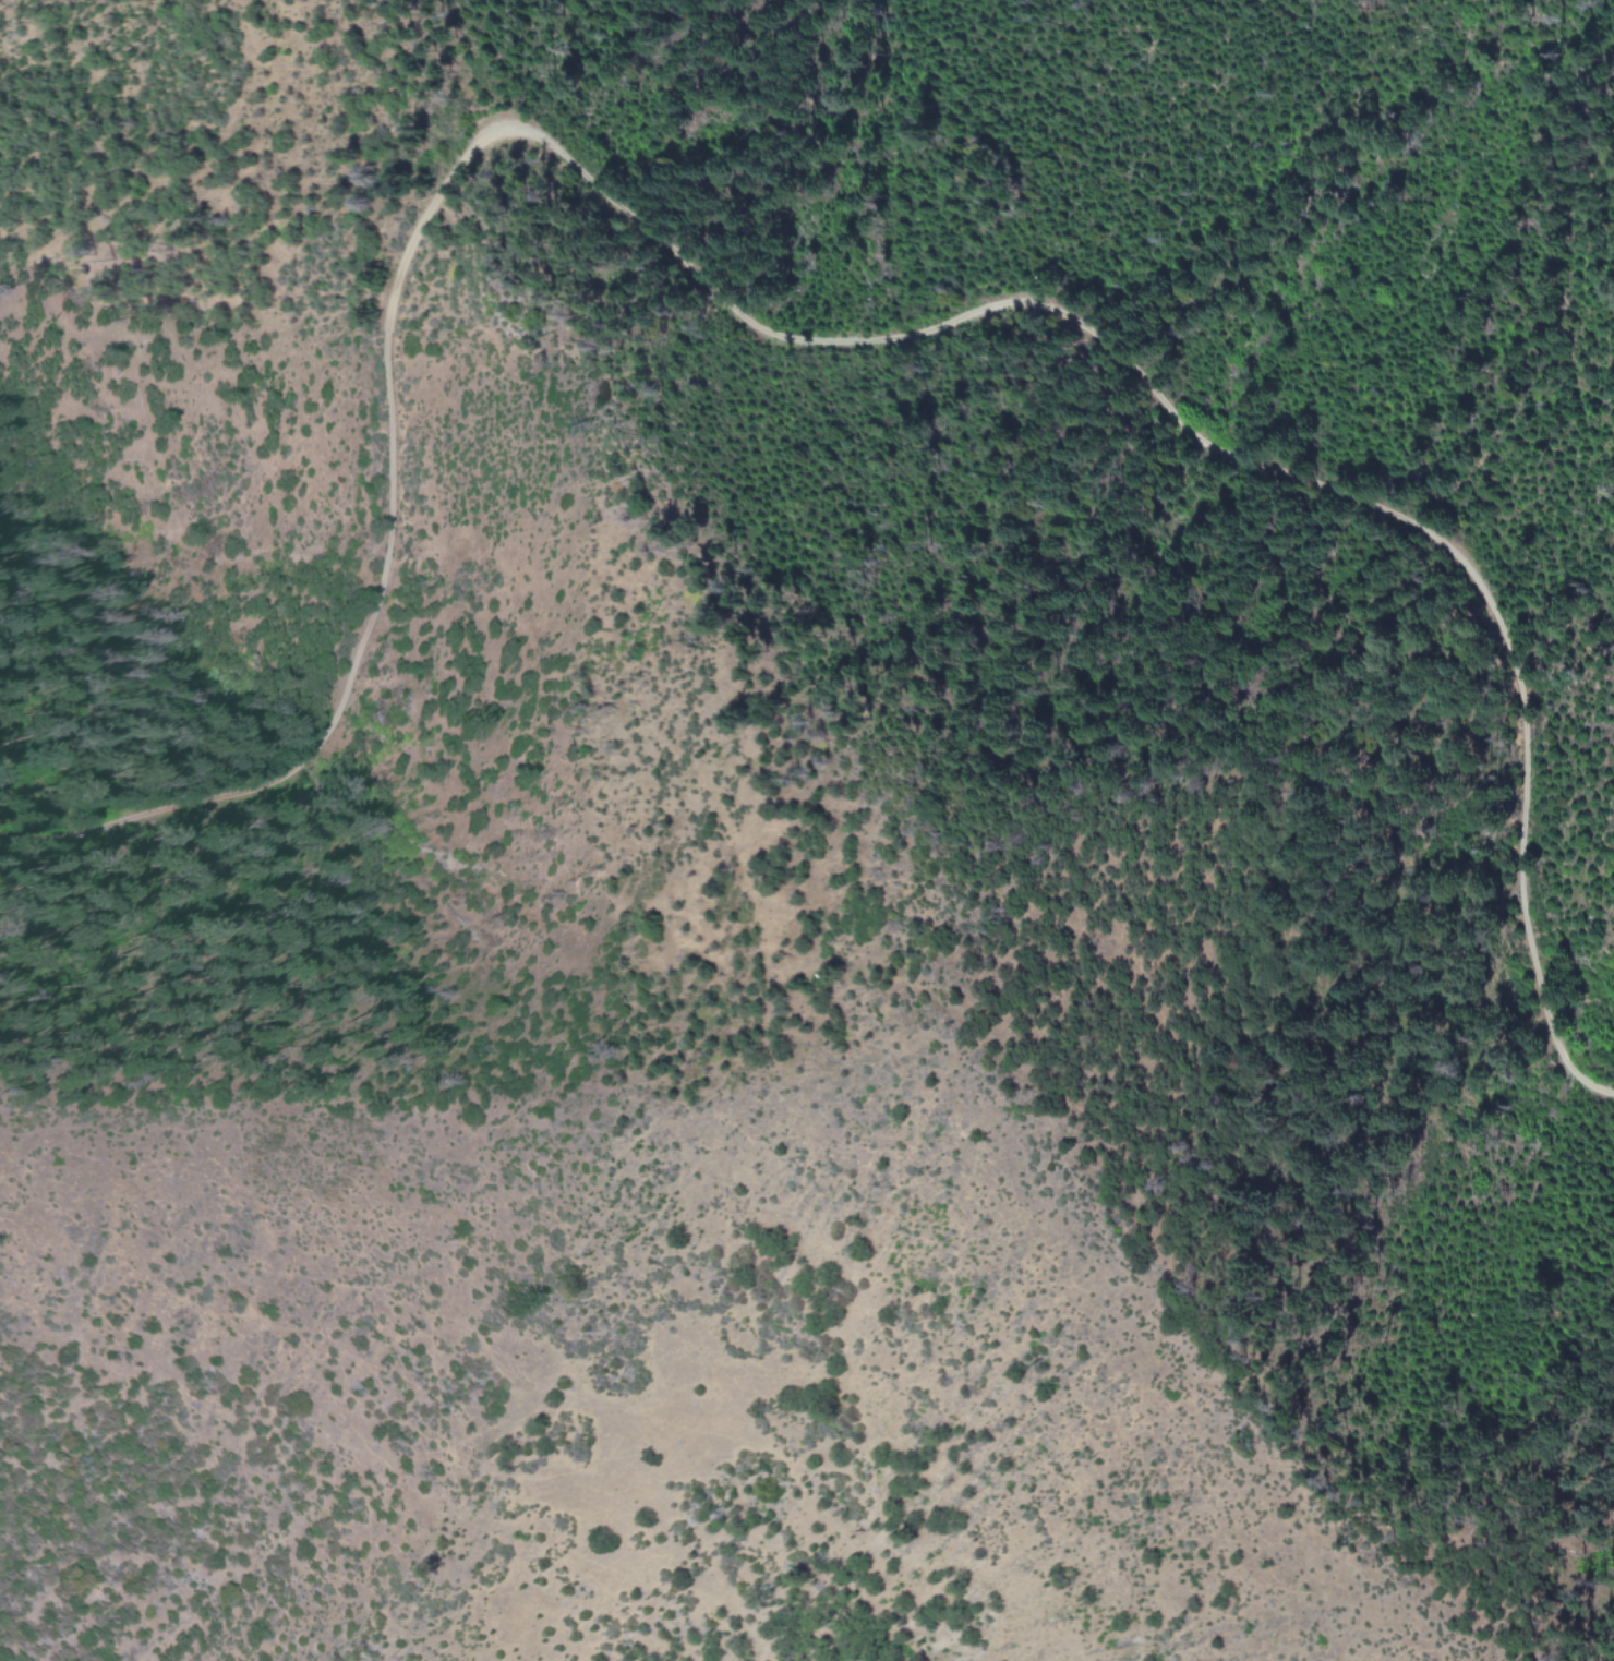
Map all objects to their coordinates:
road: (798, 299)

